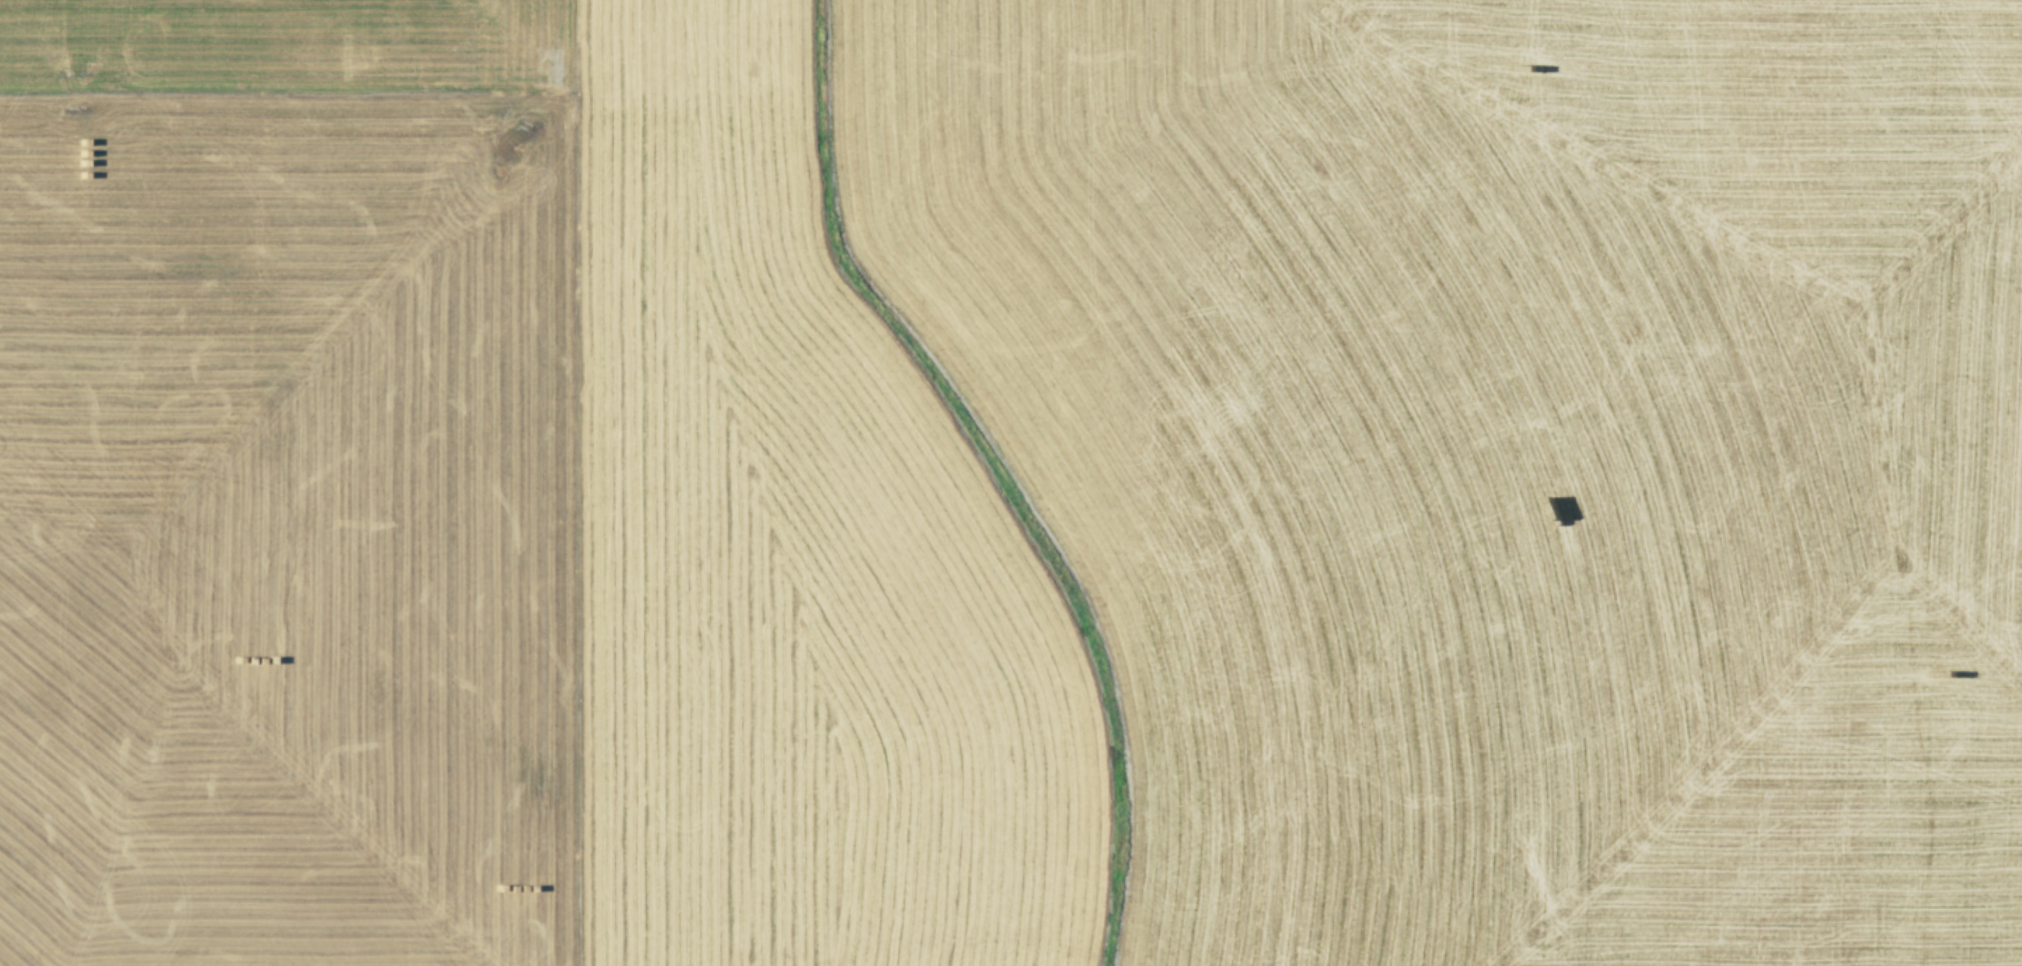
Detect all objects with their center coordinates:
crop: (1011, 483)

